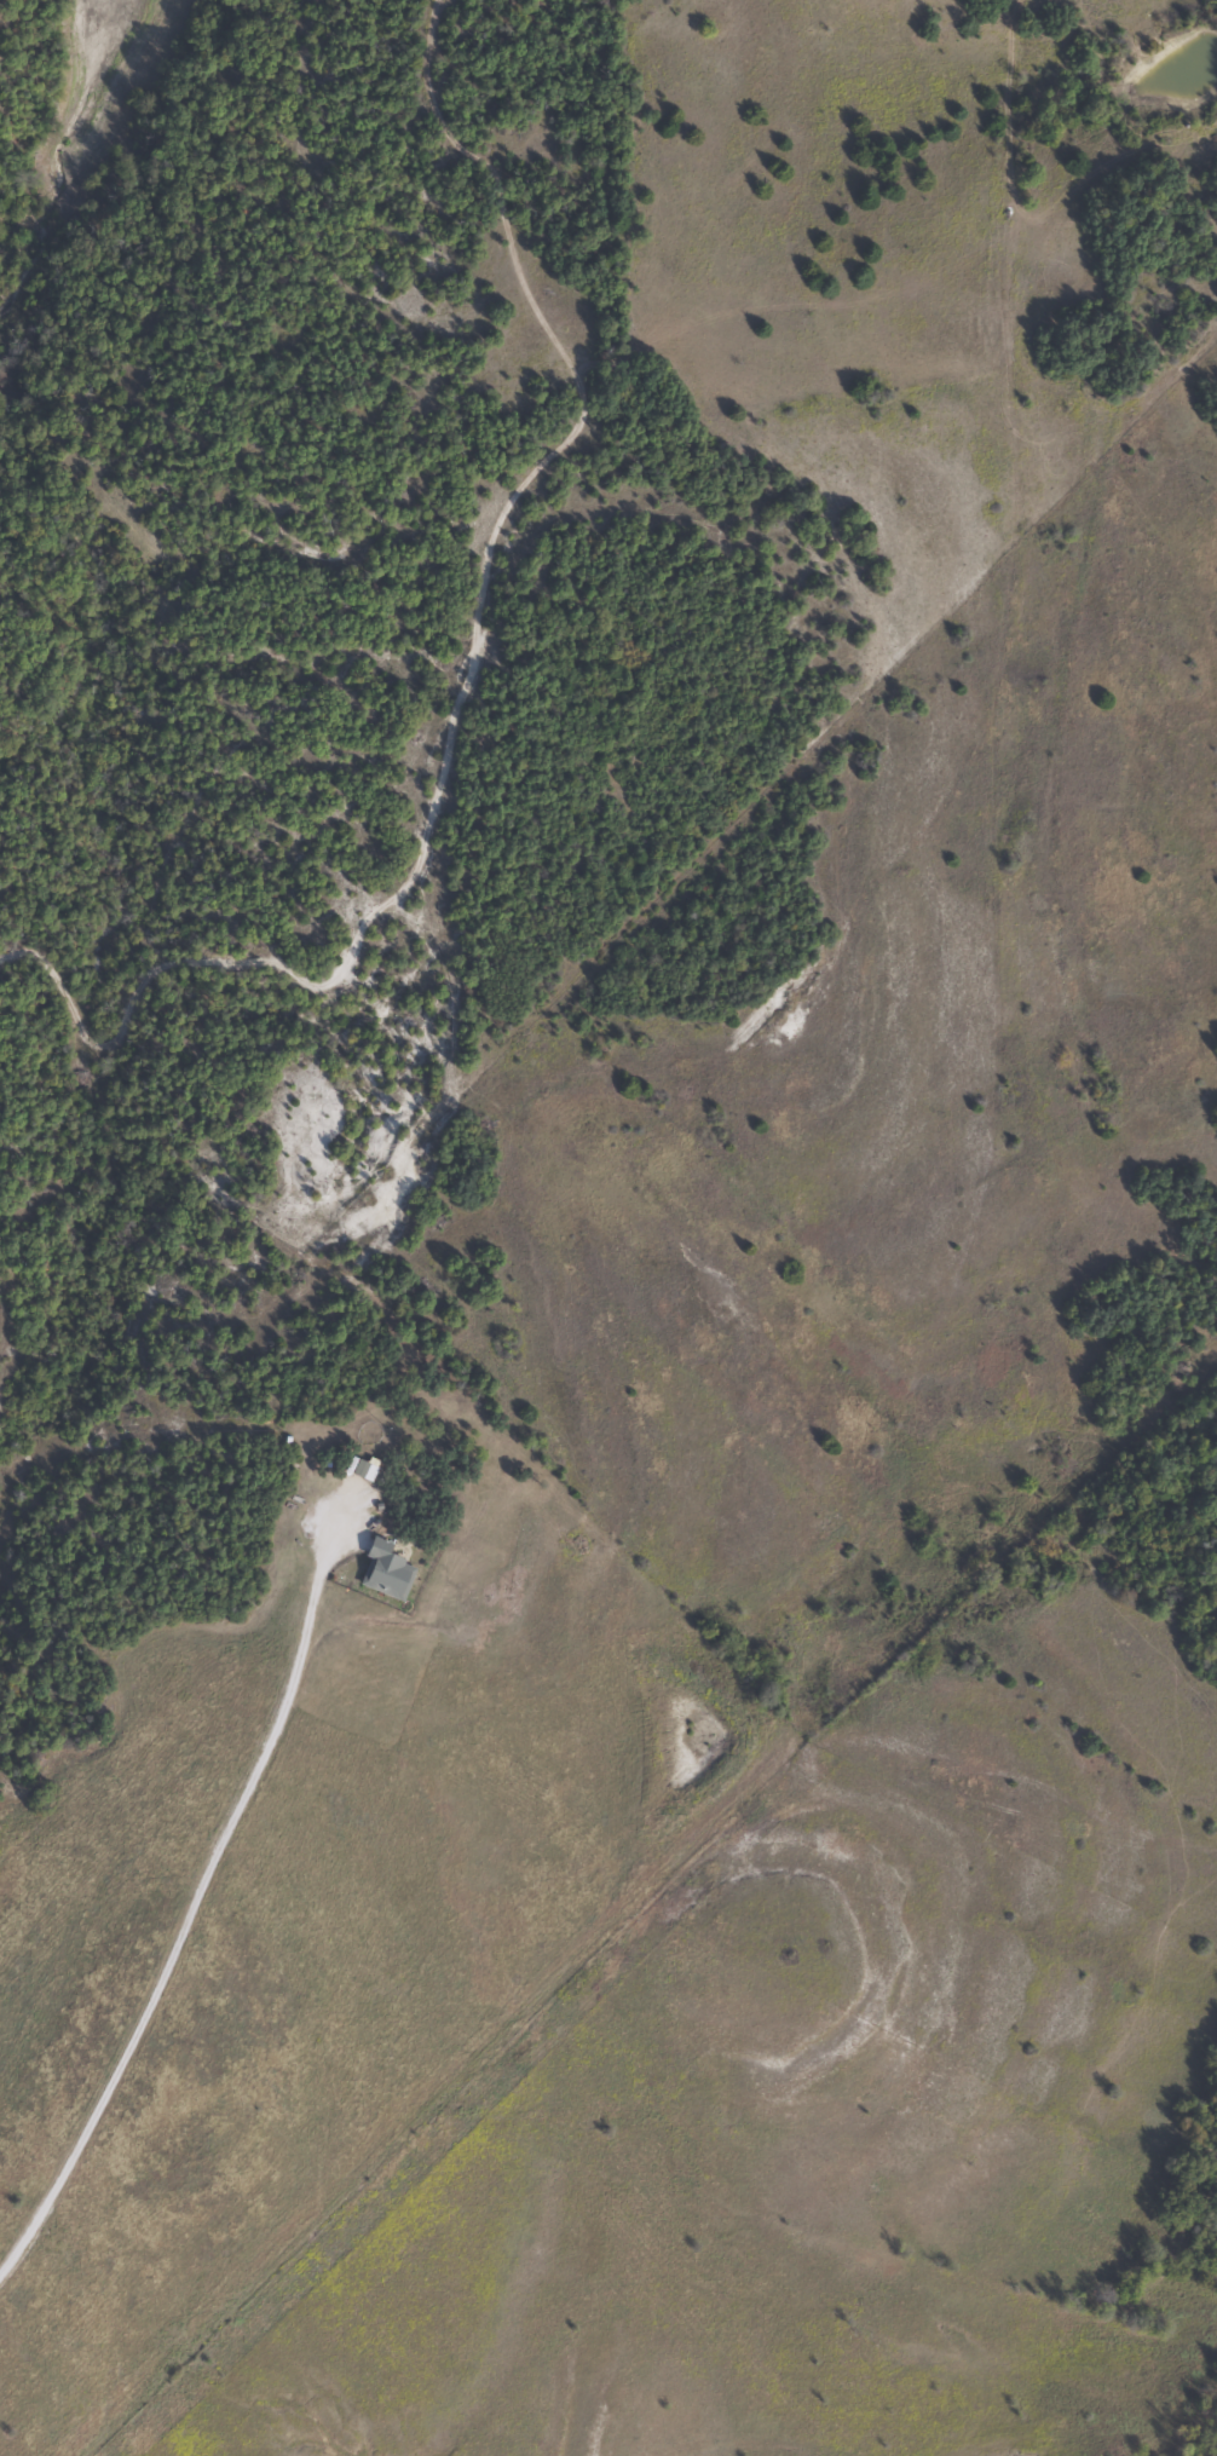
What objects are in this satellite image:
road: (961, 1134)
building: (358, 1471)
building: (383, 1572)
road: (277, 1717)
road: (120, 2066)
road: (652, 2438)

